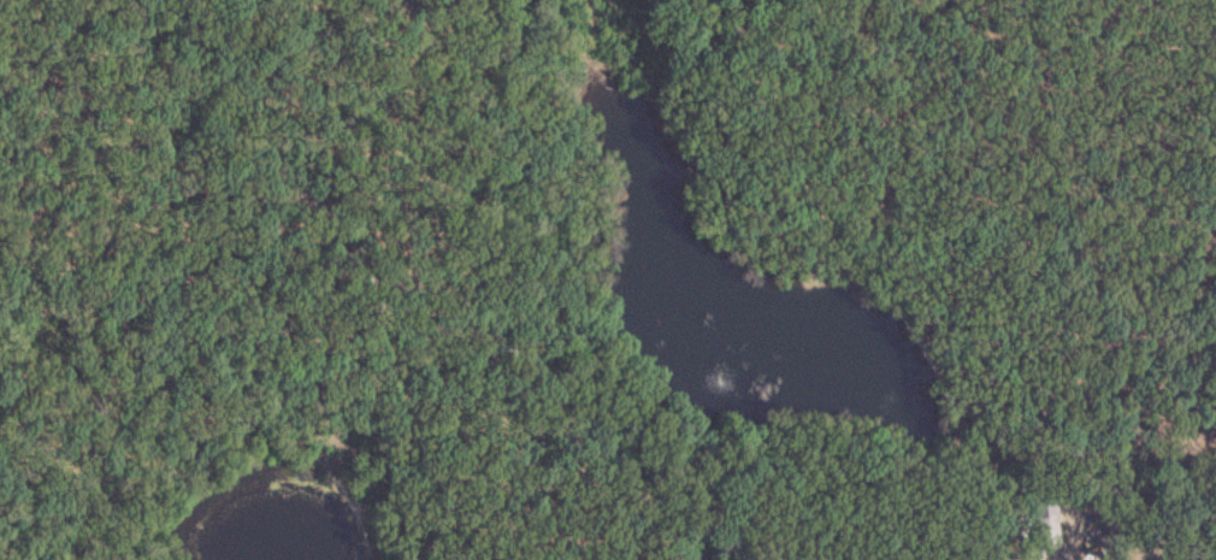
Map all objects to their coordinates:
building: (1045, 530)

